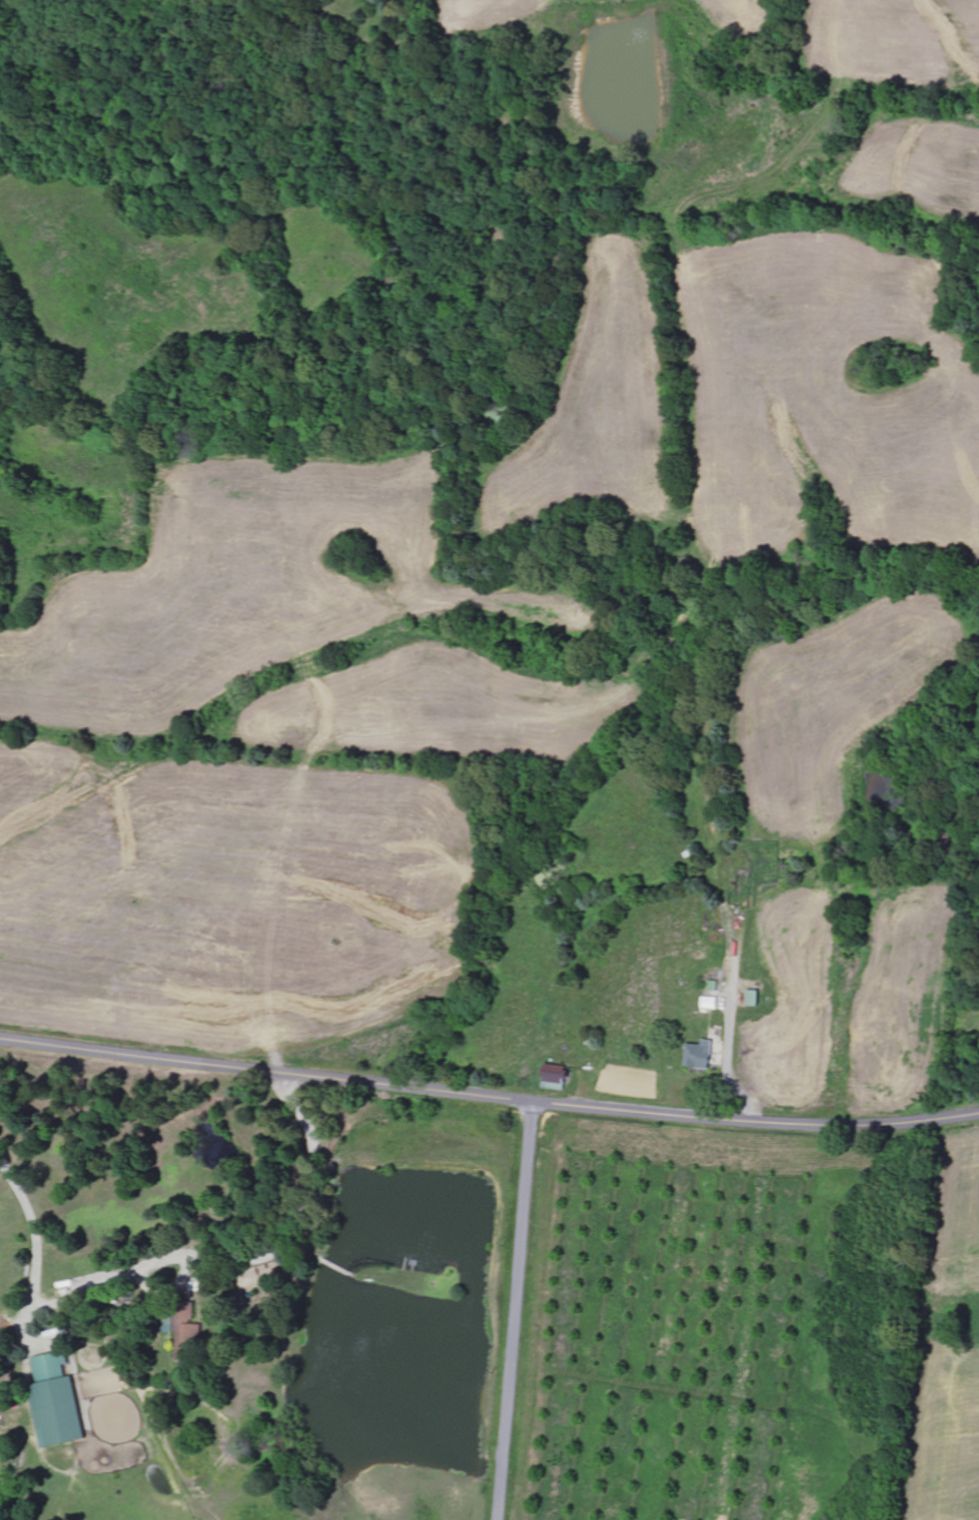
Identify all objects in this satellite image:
building: (755, 998)
building: (712, 1003)
building: (701, 1055)
building: (557, 1077)
road: (488, 1096)
road: (517, 1311)
building: (178, 1318)
building: (57, 1403)

